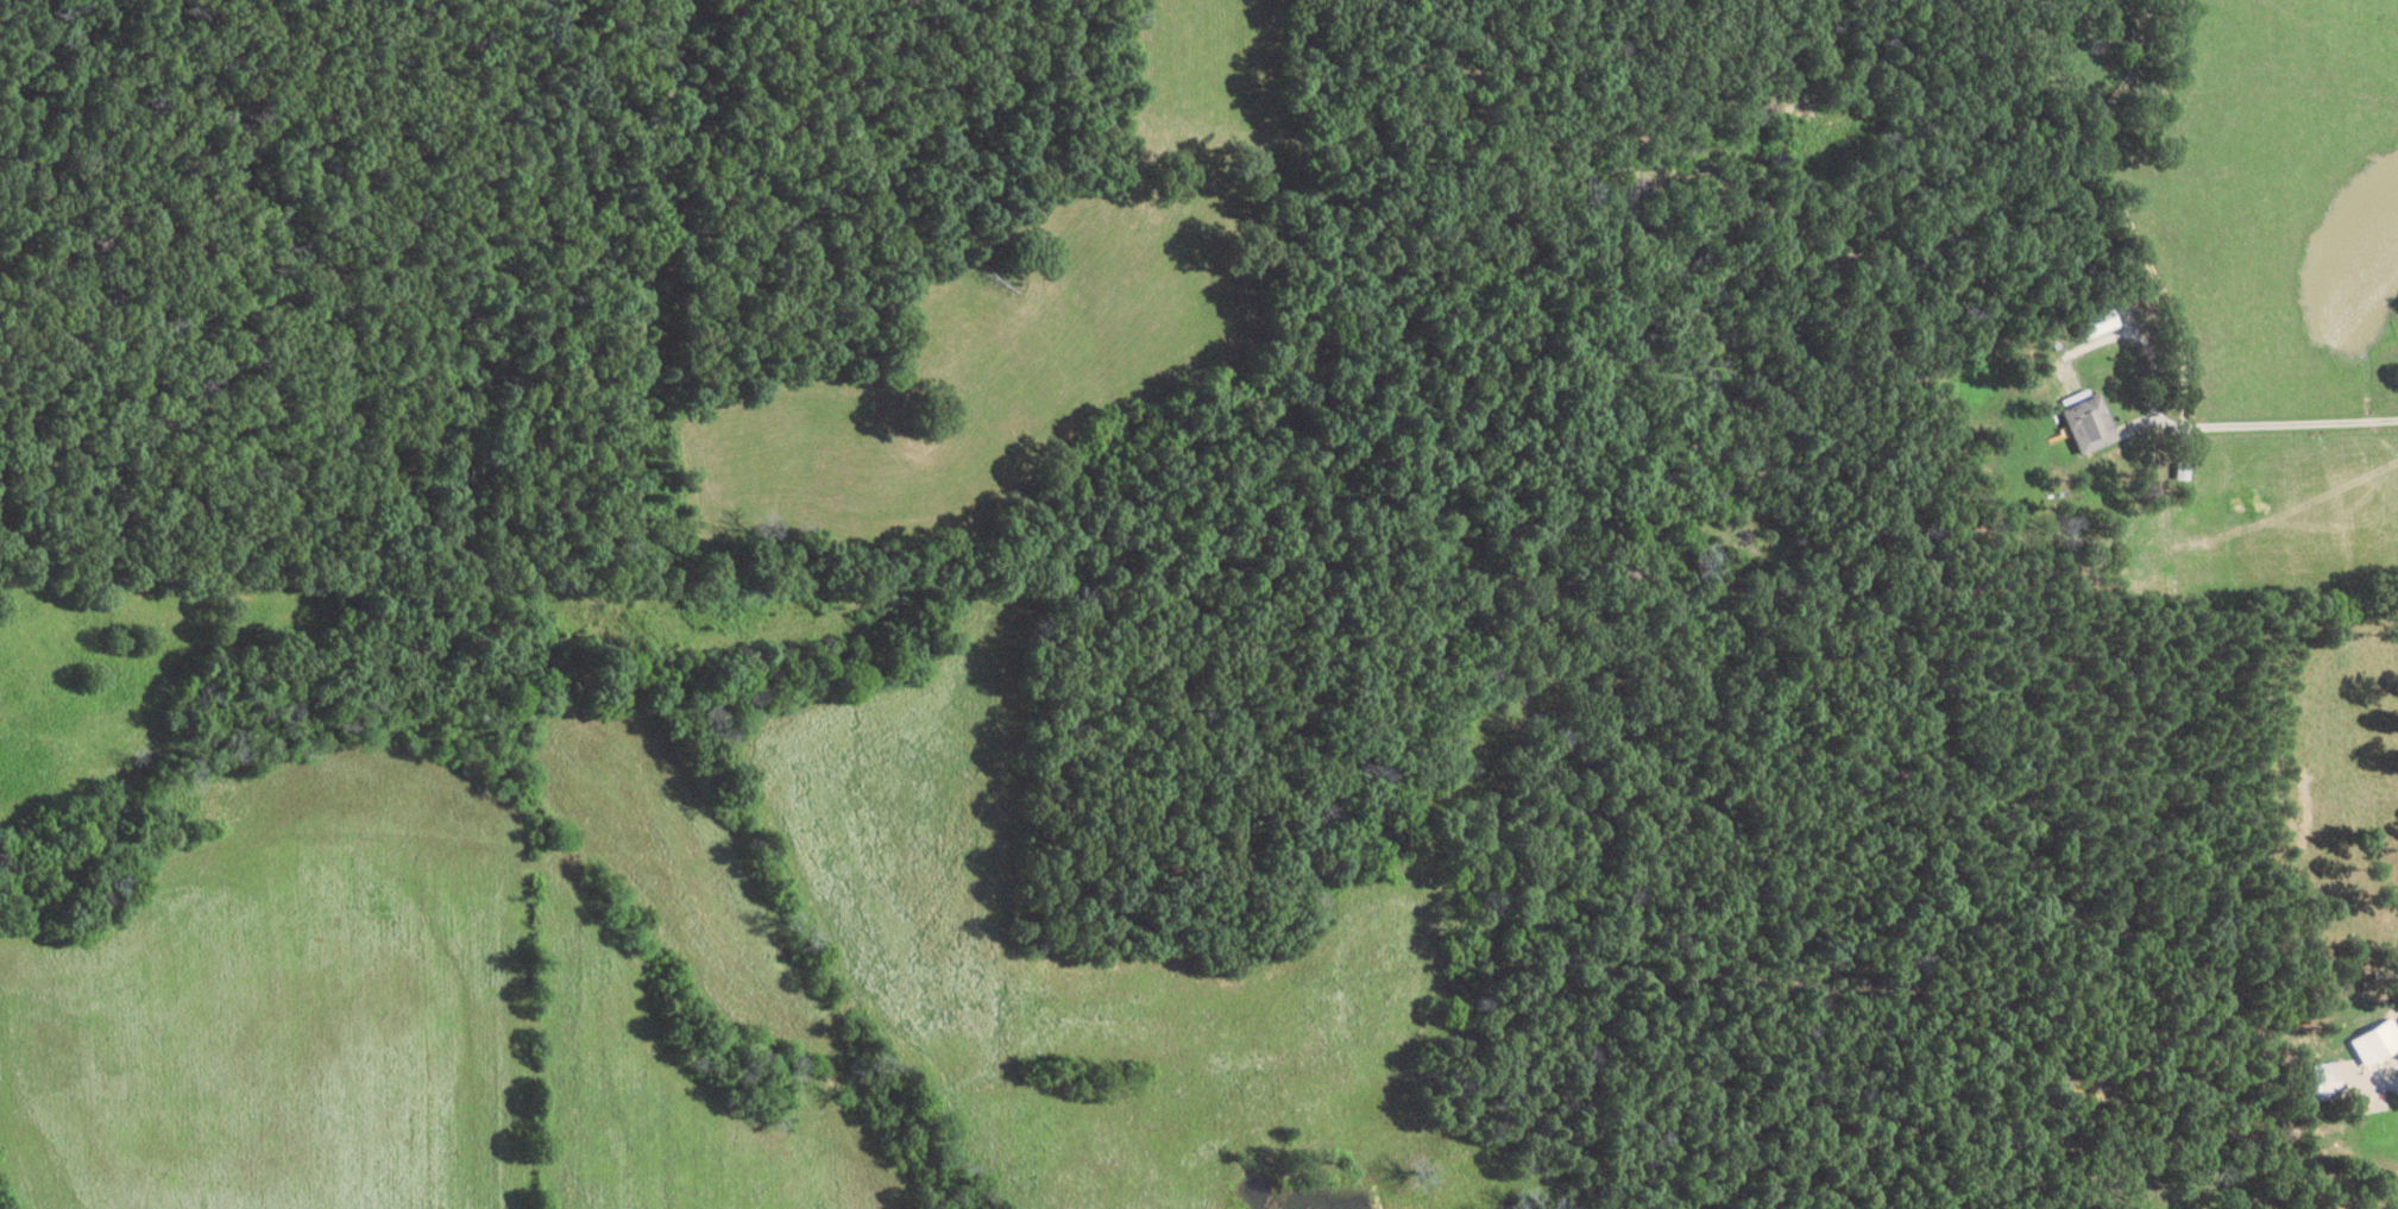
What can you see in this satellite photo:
building: (2088, 328)
building: (2078, 427)
building: (2369, 1046)
building: (2318, 1090)

